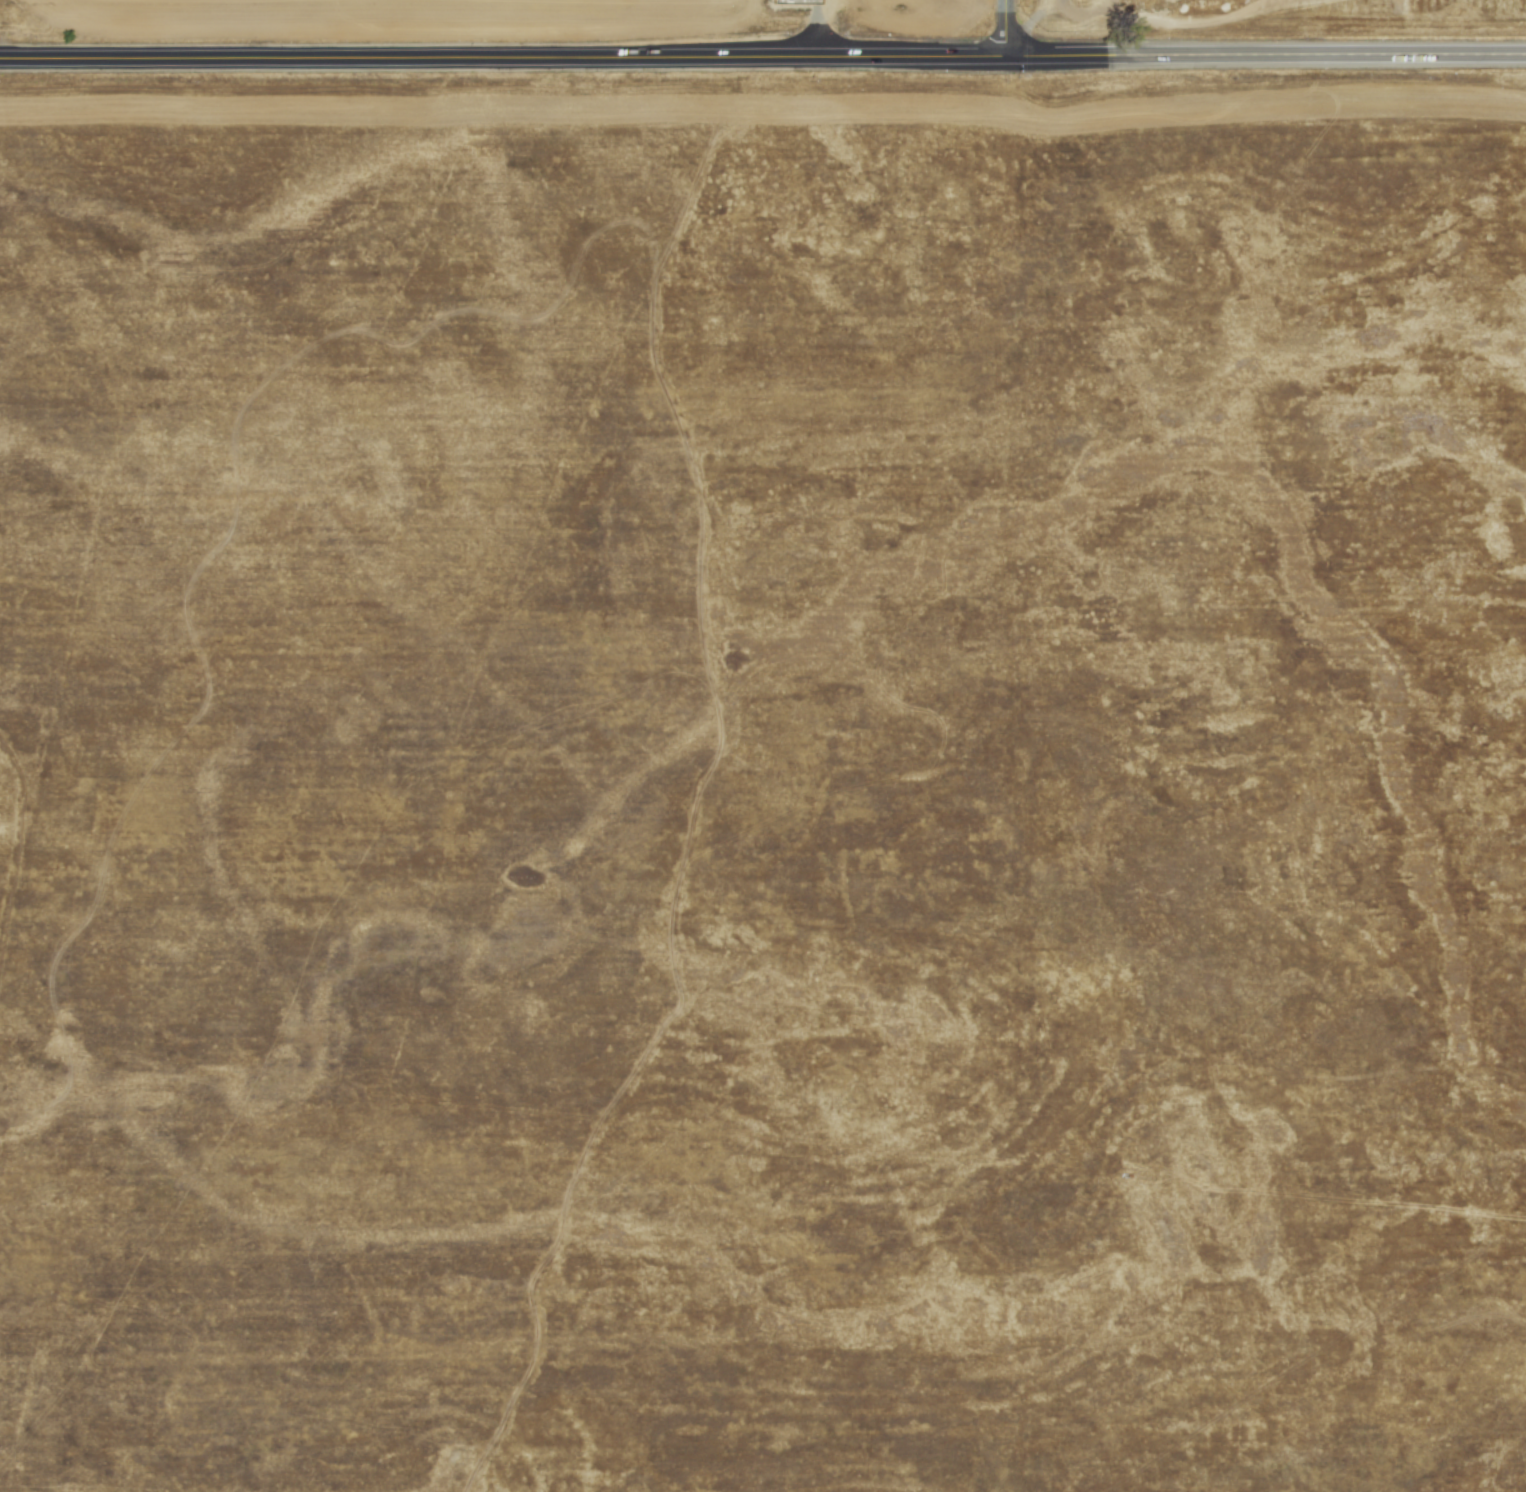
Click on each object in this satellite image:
road: (1008, 28)
road: (762, 56)

